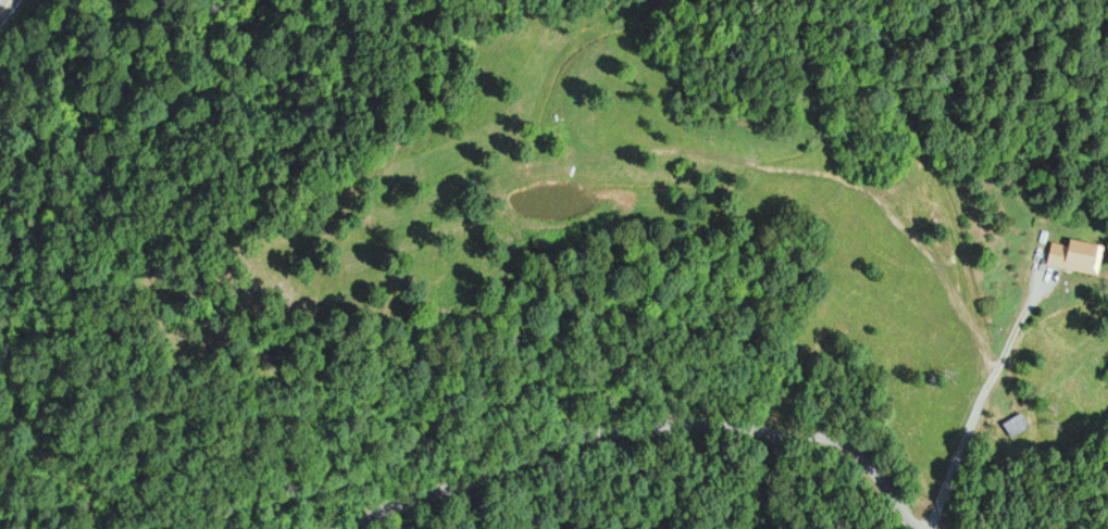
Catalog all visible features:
road: (7, 10)
road: (923, 95)
building: (1070, 256)
building: (1013, 426)
road: (596, 436)
road: (884, 491)

